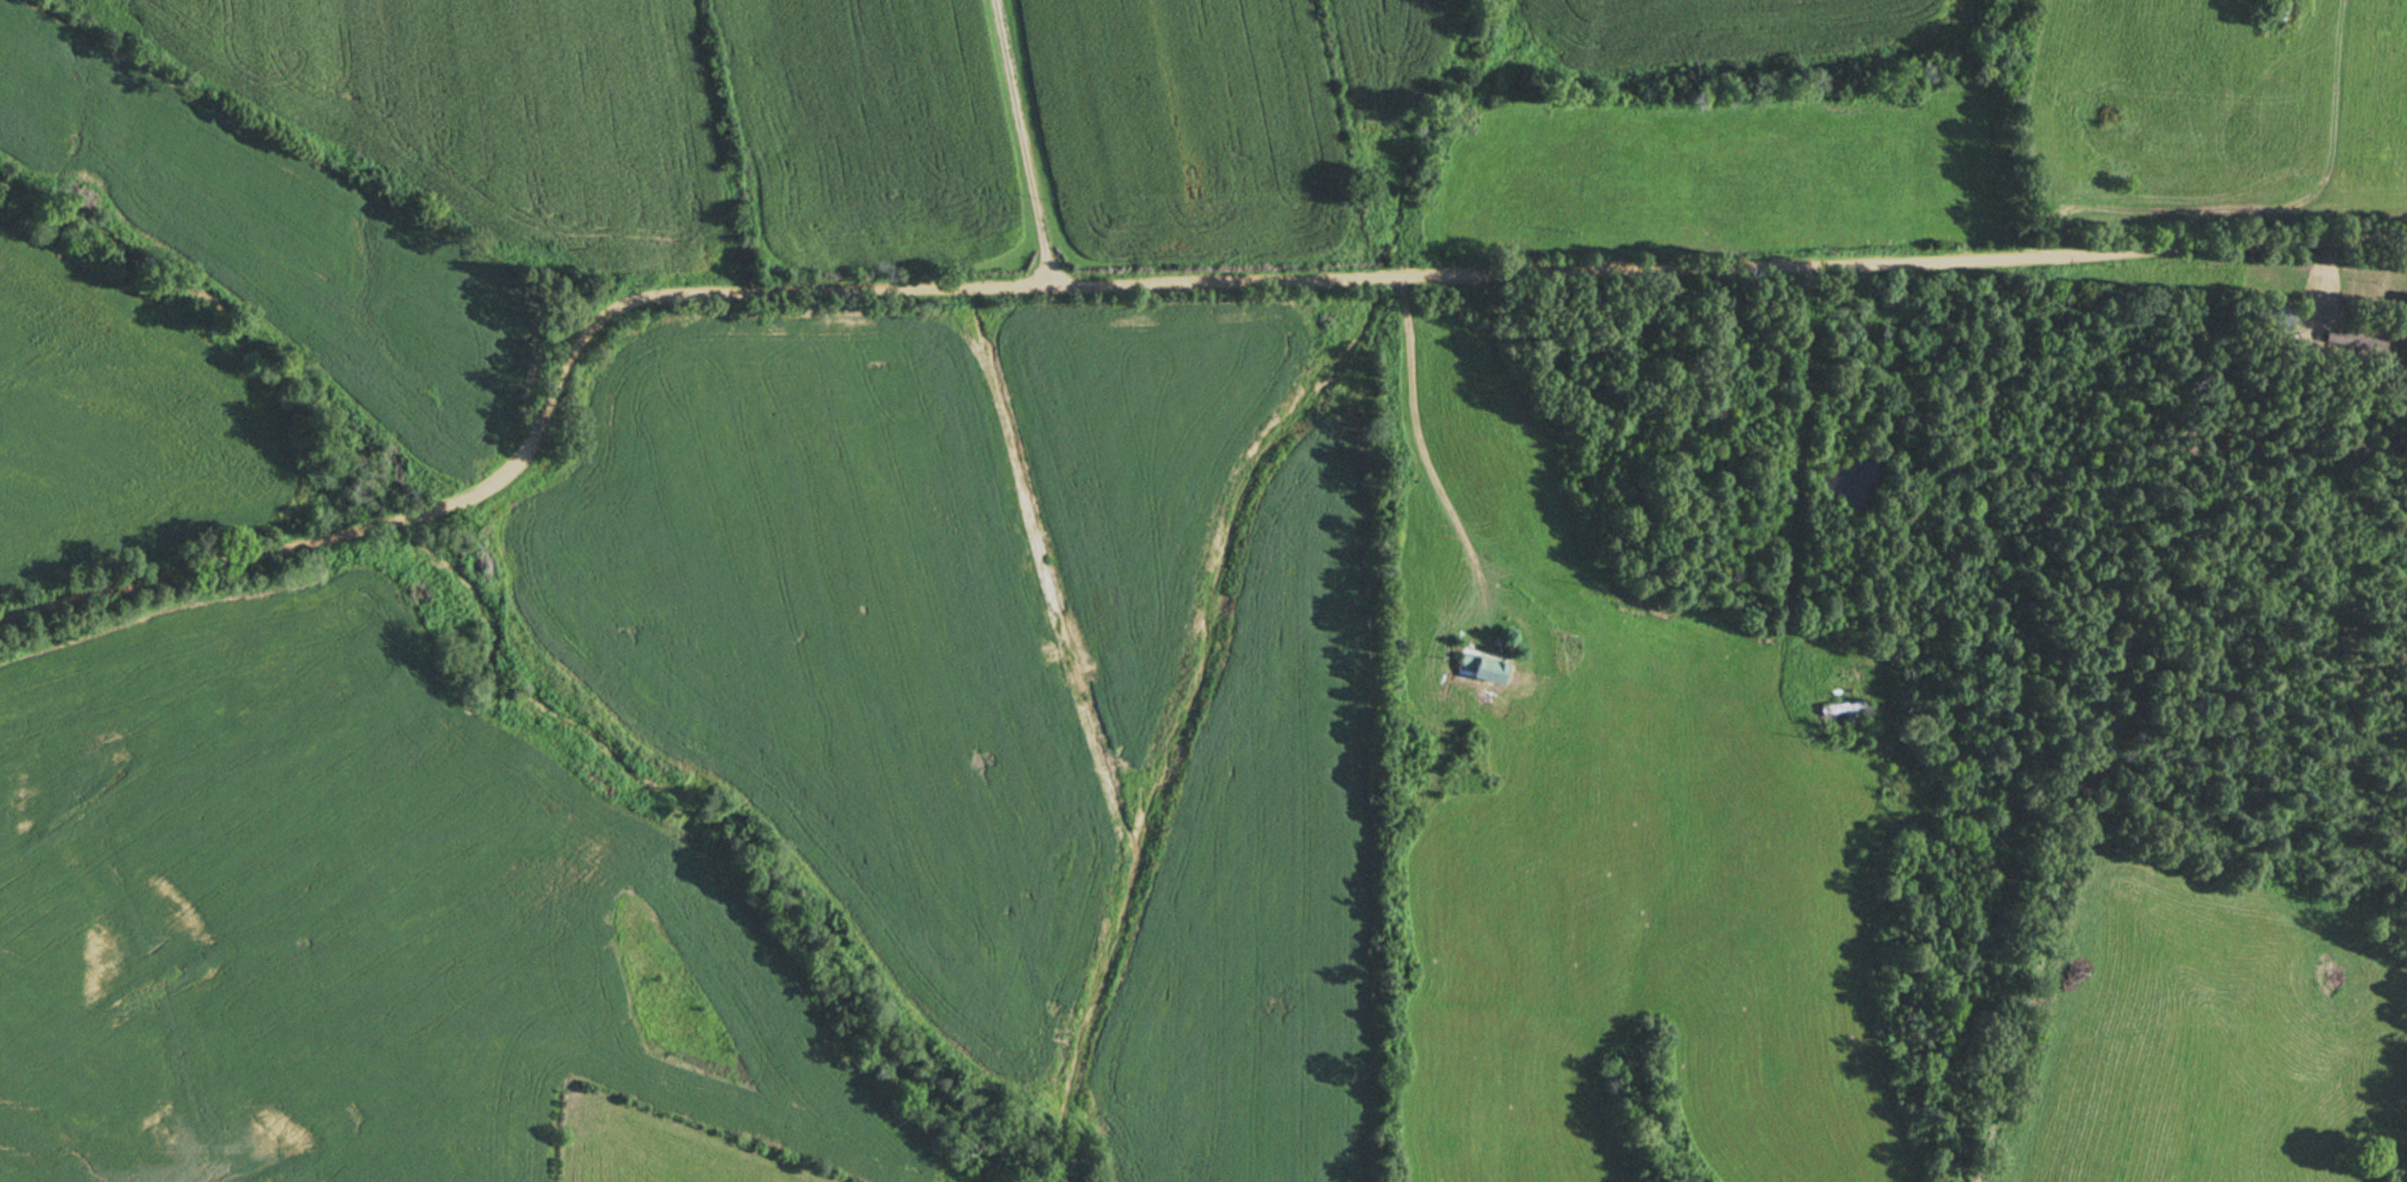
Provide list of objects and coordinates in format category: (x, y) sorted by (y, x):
road: (1021, 142)
road: (1147, 283)
building: (2353, 346)
road: (1421, 464)
road: (1795, 504)
building: (1476, 666)

